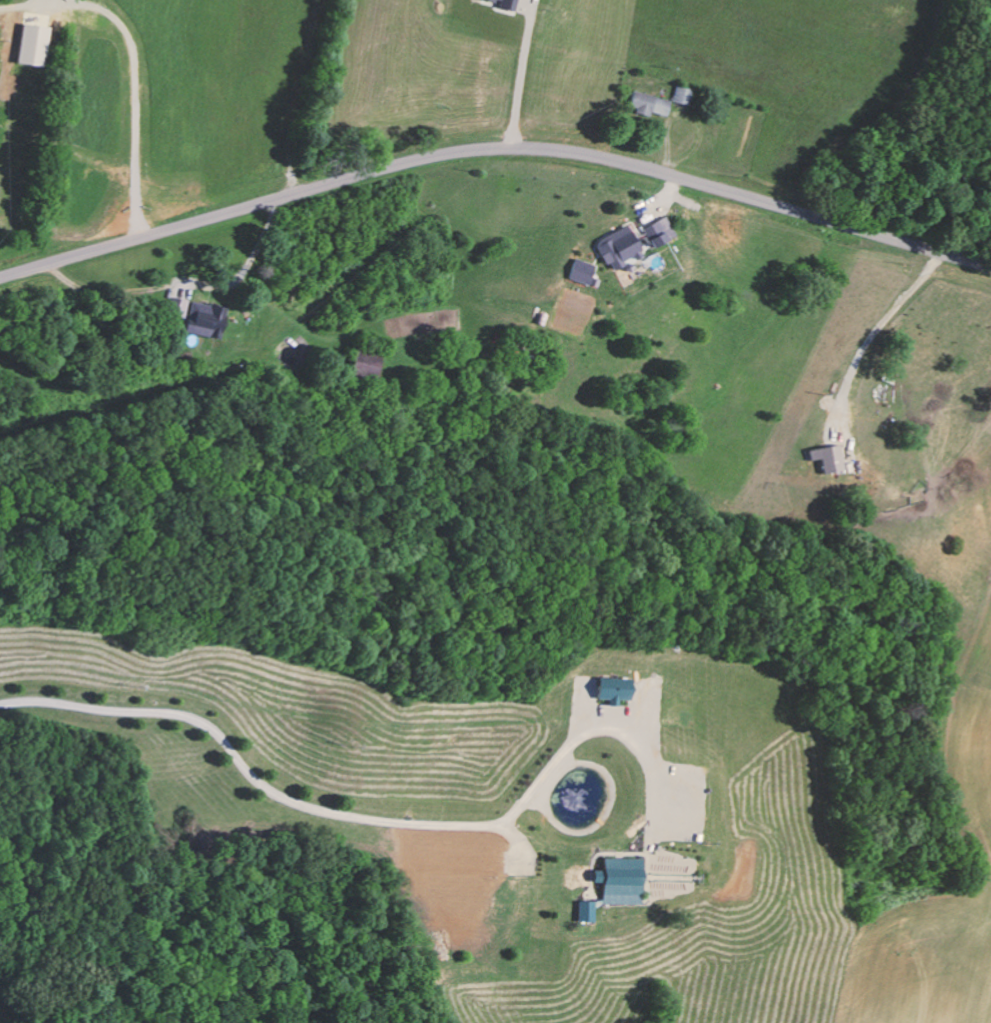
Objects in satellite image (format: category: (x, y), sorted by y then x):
building: (31, 43)
road: (134, 66)
building: (682, 94)
road: (285, 101)
building: (647, 102)
road: (495, 148)
building: (658, 230)
building: (619, 247)
building: (581, 270)
building: (197, 316)
building: (362, 364)
building: (826, 457)
building: (611, 688)
road: (254, 777)
building: (467, 879)
building: (619, 880)
building: (585, 910)

